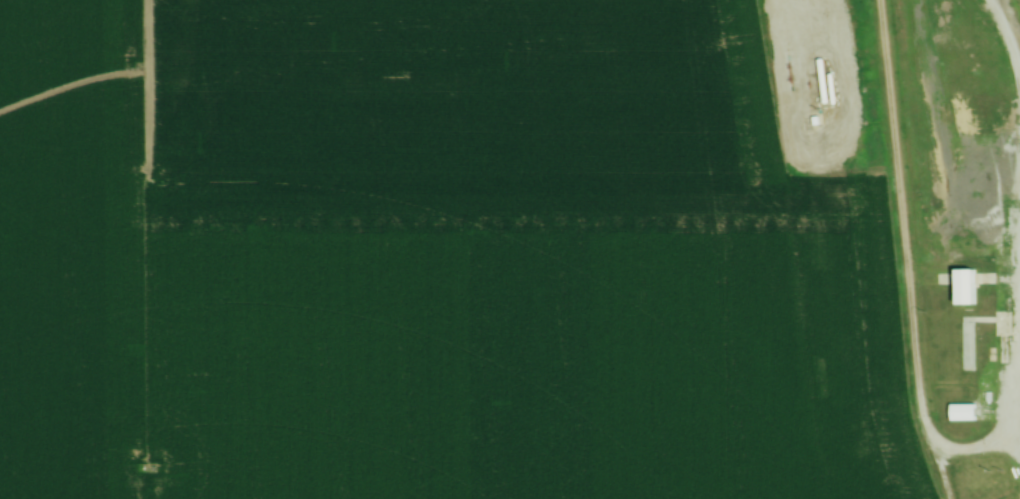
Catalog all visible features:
road: (899, 269)
building: (1001, 323)
building: (972, 326)
building: (972, 338)
building: (972, 350)
building: (972, 362)

